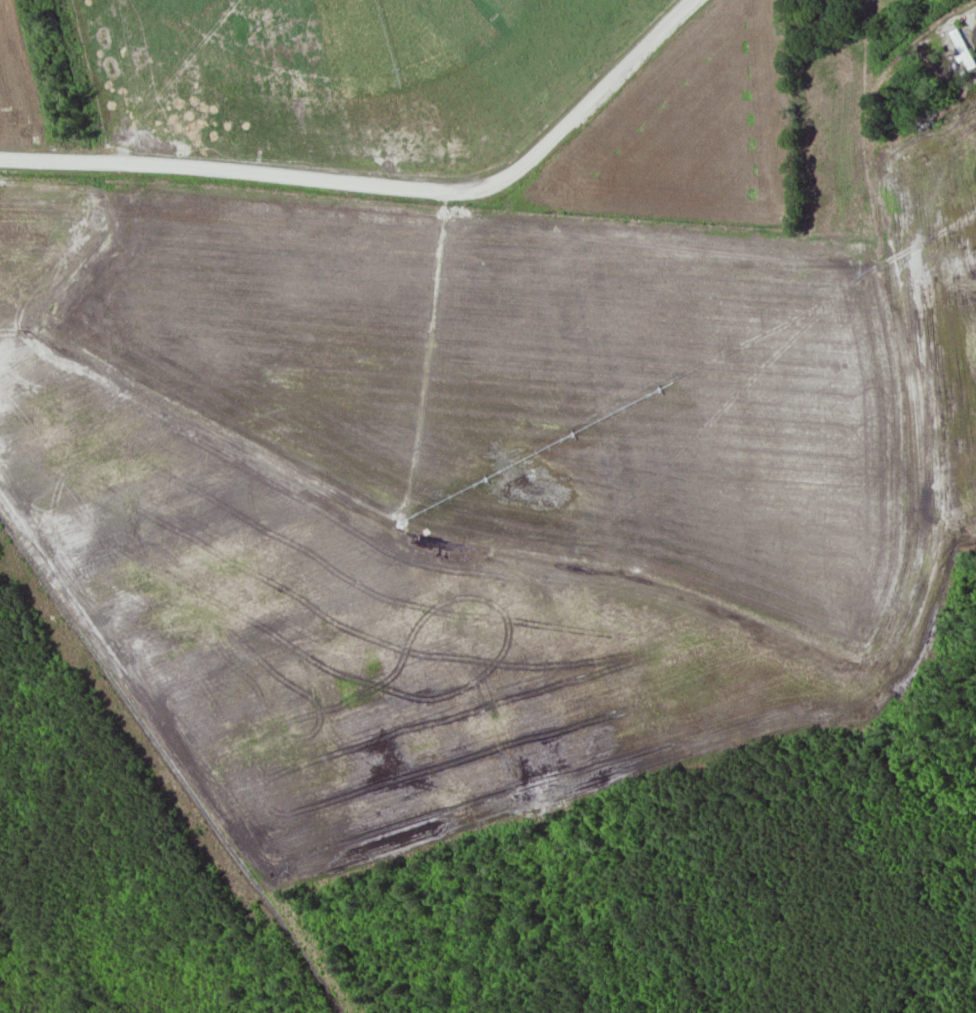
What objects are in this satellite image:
road: (382, 187)

